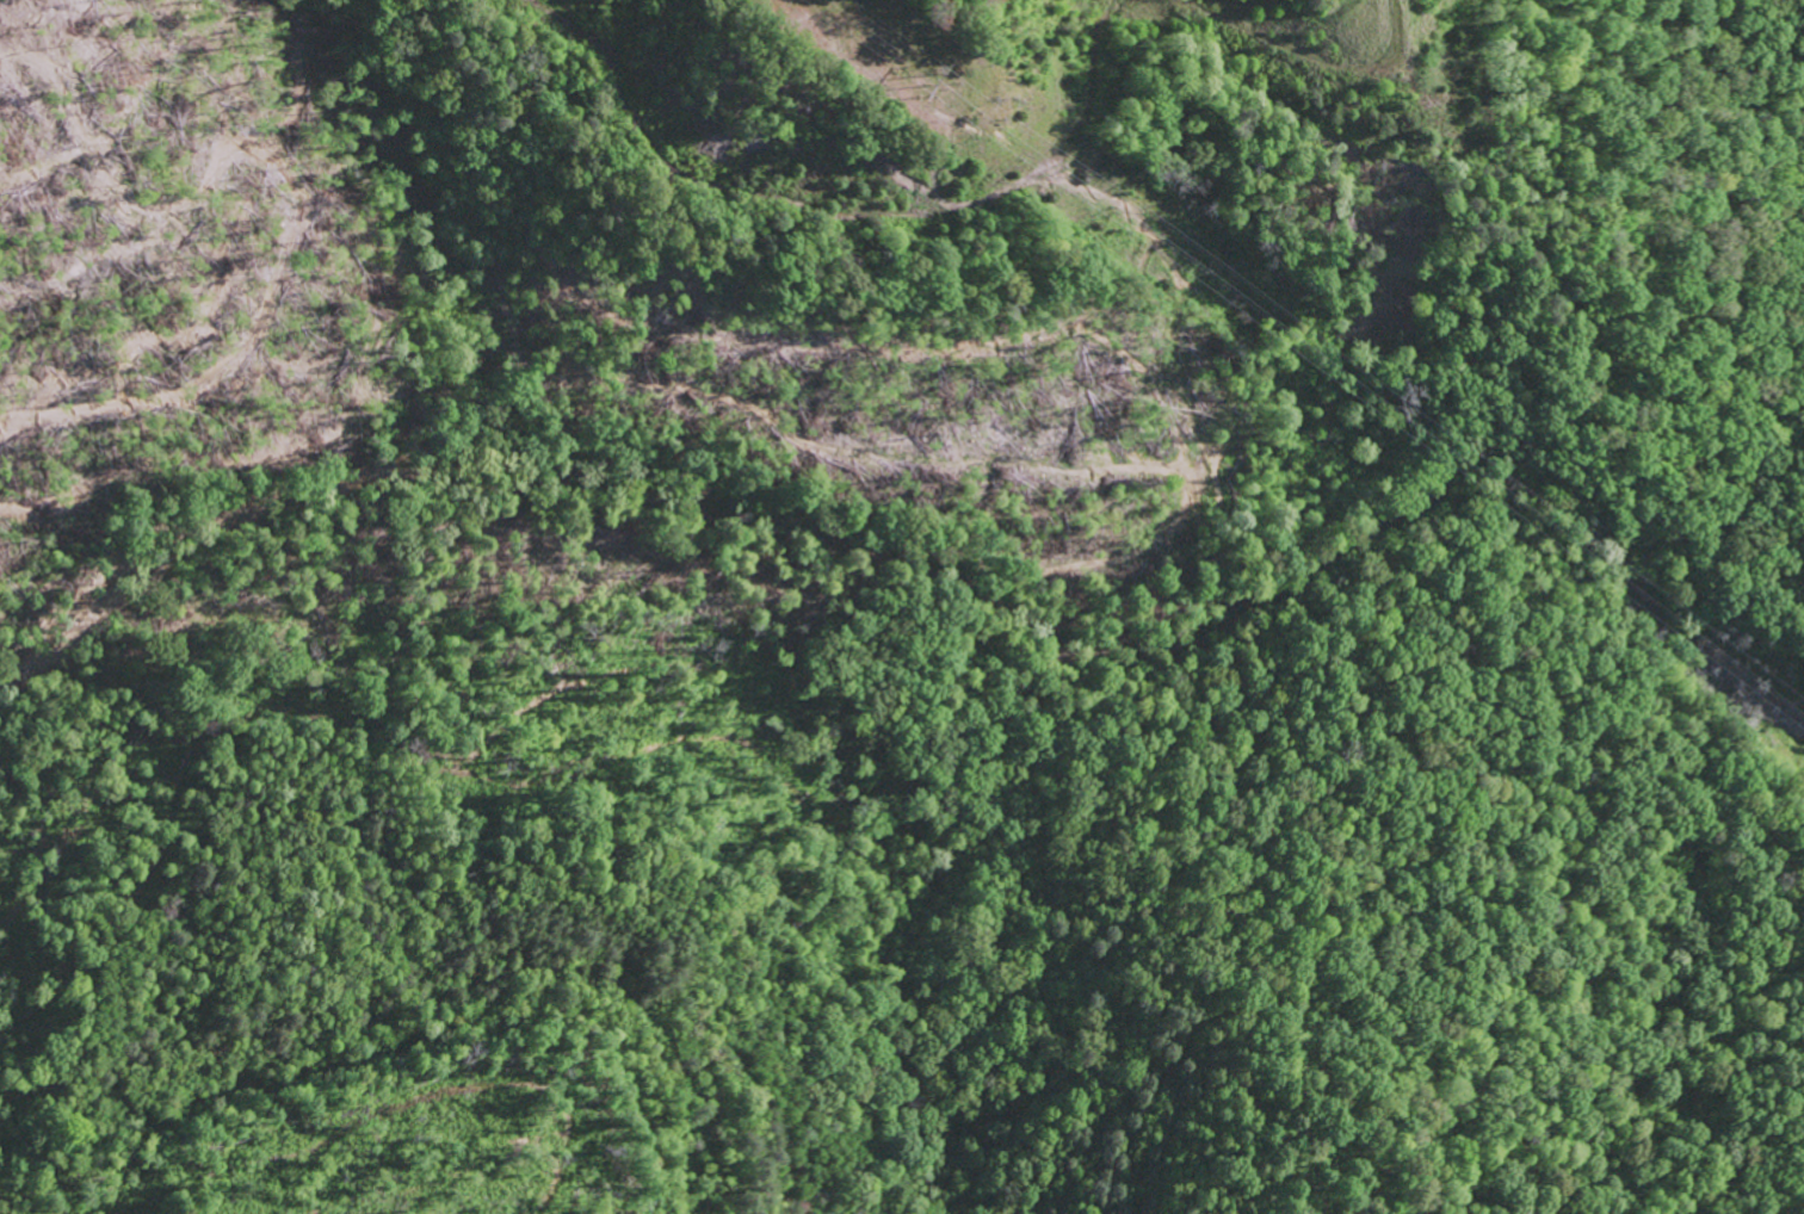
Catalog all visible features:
power tower: (939, 75)

